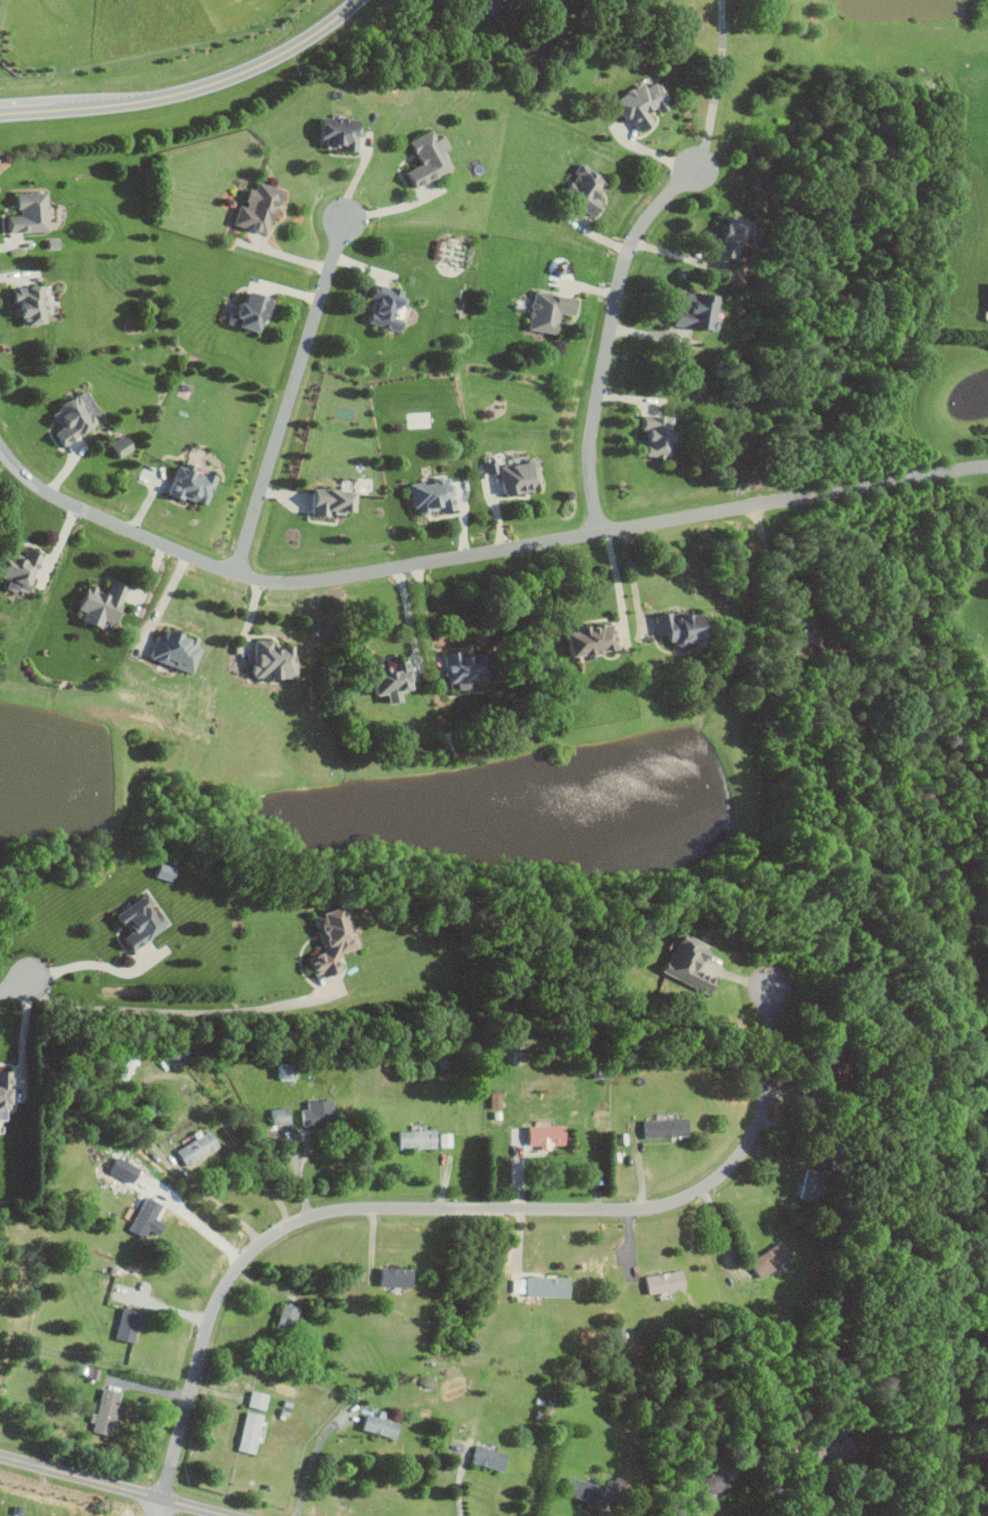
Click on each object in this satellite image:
road: (430, 0)
building: (487, 7)
dam: (968, 34)
dam: (906, 36)
road: (718, 84)
road: (190, 90)
building: (636, 103)
building: (334, 133)
building: (422, 158)
building: (580, 188)
road: (391, 206)
building: (252, 208)
building: (24, 213)
building: (722, 235)
road: (676, 255)
building: (24, 303)
building: (380, 306)
building: (987, 307)
building: (244, 310)
building: (543, 311)
building: (690, 311)
road: (609, 334)
road: (290, 393)
building: (69, 416)
building: (651, 434)
building: (116, 446)
building: (513, 476)
building: (184, 485)
building: (427, 495)
building: (325, 501)
road: (477, 551)
road: (771, 566)
building: (14, 567)
road: (616, 583)
road: (166, 599)
building: (94, 604)
road: (407, 616)
road: (425, 616)
building: (673, 627)
building: (585, 639)
building: (170, 649)
building: (266, 660)
building: (454, 668)
building: (386, 680)
building: (131, 922)
road: (92, 963)
building: (683, 963)
road: (14, 991)
road: (182, 1012)
road: (20, 1035)
building: (281, 1073)
road: (145, 1080)
building: (3, 1090)
building: (491, 1099)
building: (314, 1112)
building: (277, 1116)
building: (661, 1128)
building: (541, 1136)
building: (413, 1139)
building: (442, 1139)
building: (193, 1148)
building: (121, 1171)
building: (805, 1185)
road: (447, 1208)
building: (141, 1217)
road: (202, 1229)
road: (724, 1233)
building: (765, 1260)
building: (391, 1277)
building: (661, 1282)
building: (543, 1286)
building: (281, 1321)
building: (122, 1324)
building: (254, 1399)
building: (104, 1411)
building: (377, 1424)
building: (246, 1432)
building: (831, 1450)
building: (484, 1457)
road: (312, 1461)
building: (716, 1480)
road: (459, 1482)
road: (103, 1488)
building: (578, 1489)
road: (806, 1490)
road: (159, 1510)

